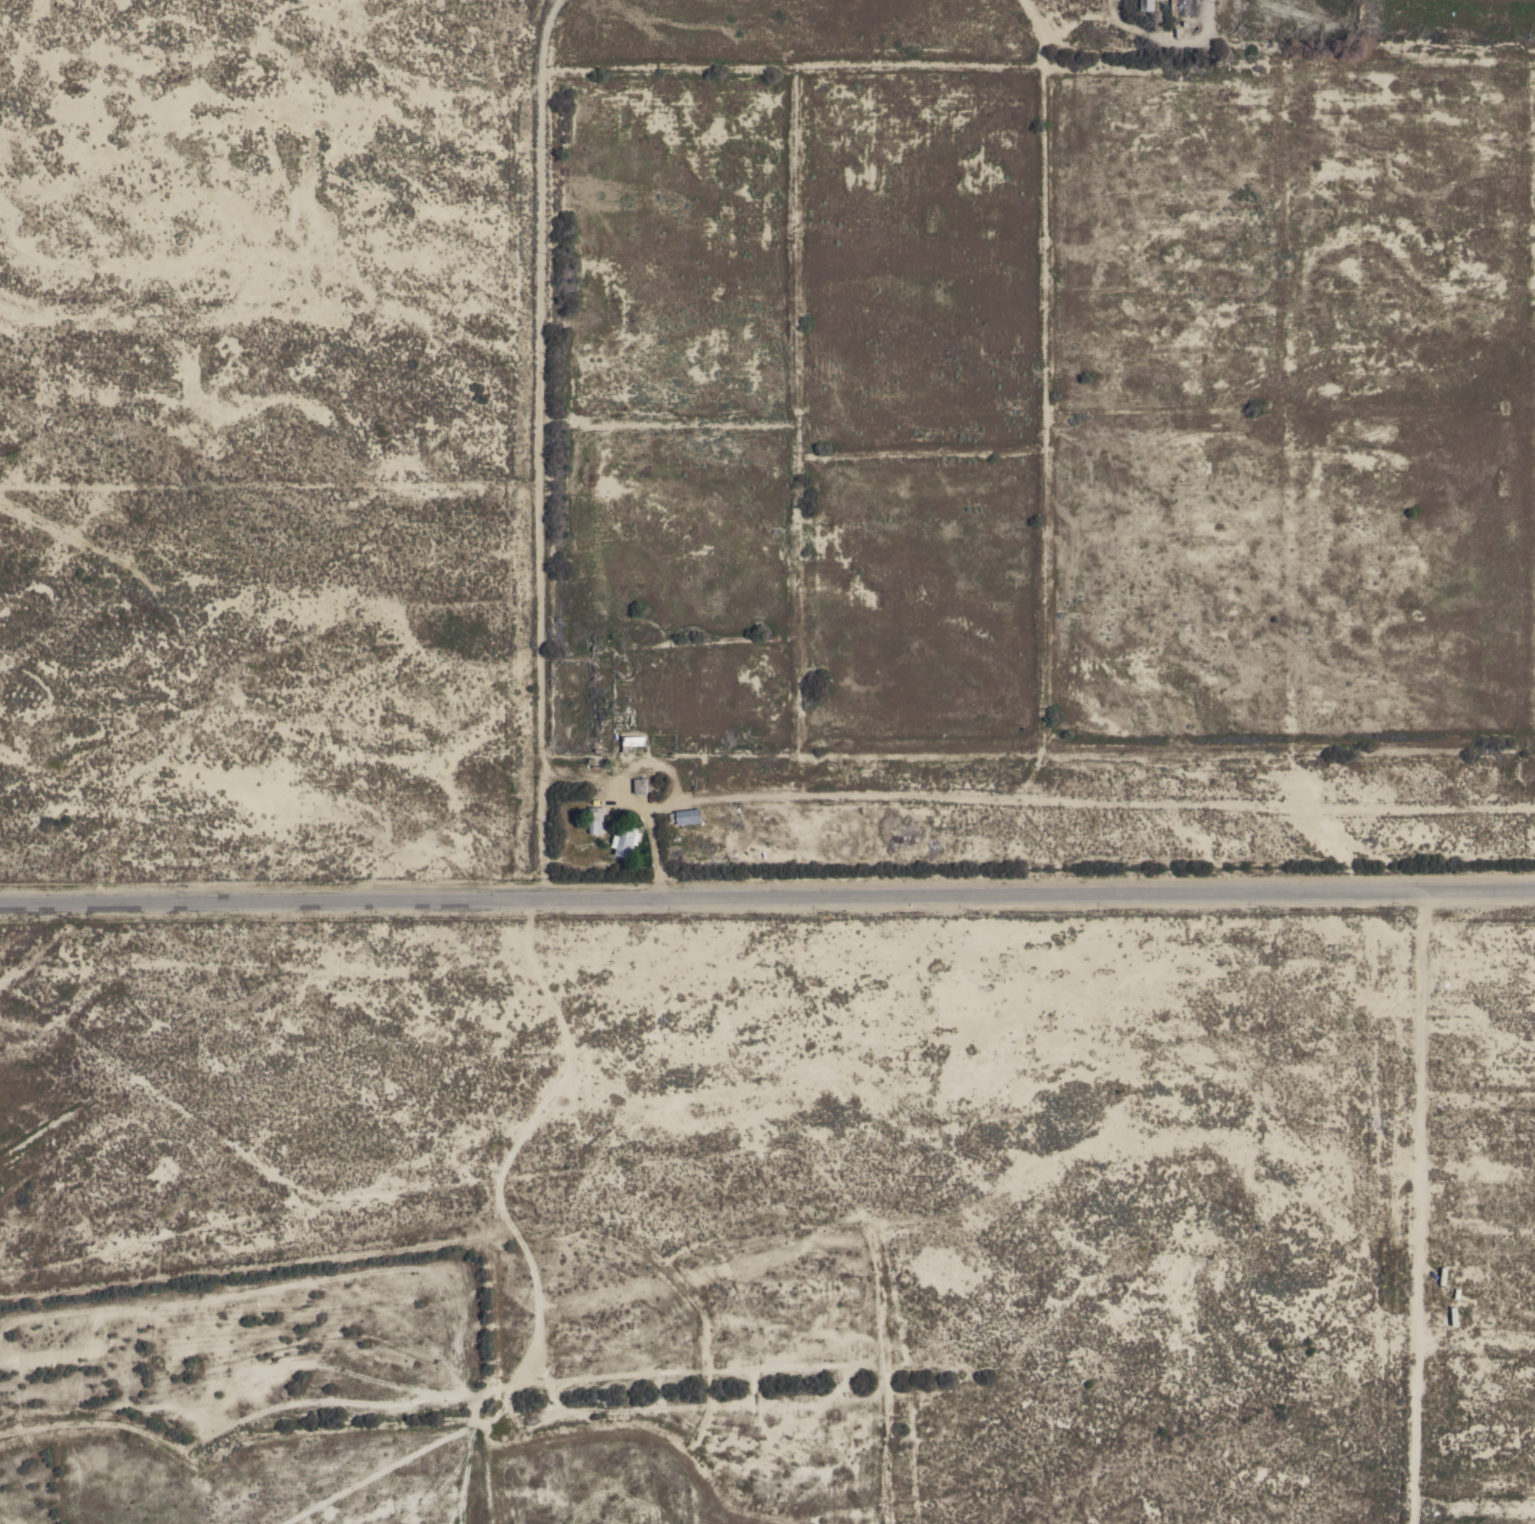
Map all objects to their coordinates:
building: (1147, 5)
building: (1183, 7)
road: (536, 447)
building: (632, 742)
building: (640, 786)
building: (689, 816)
building: (596, 820)
road: (653, 839)
building: (625, 840)
road: (767, 895)

